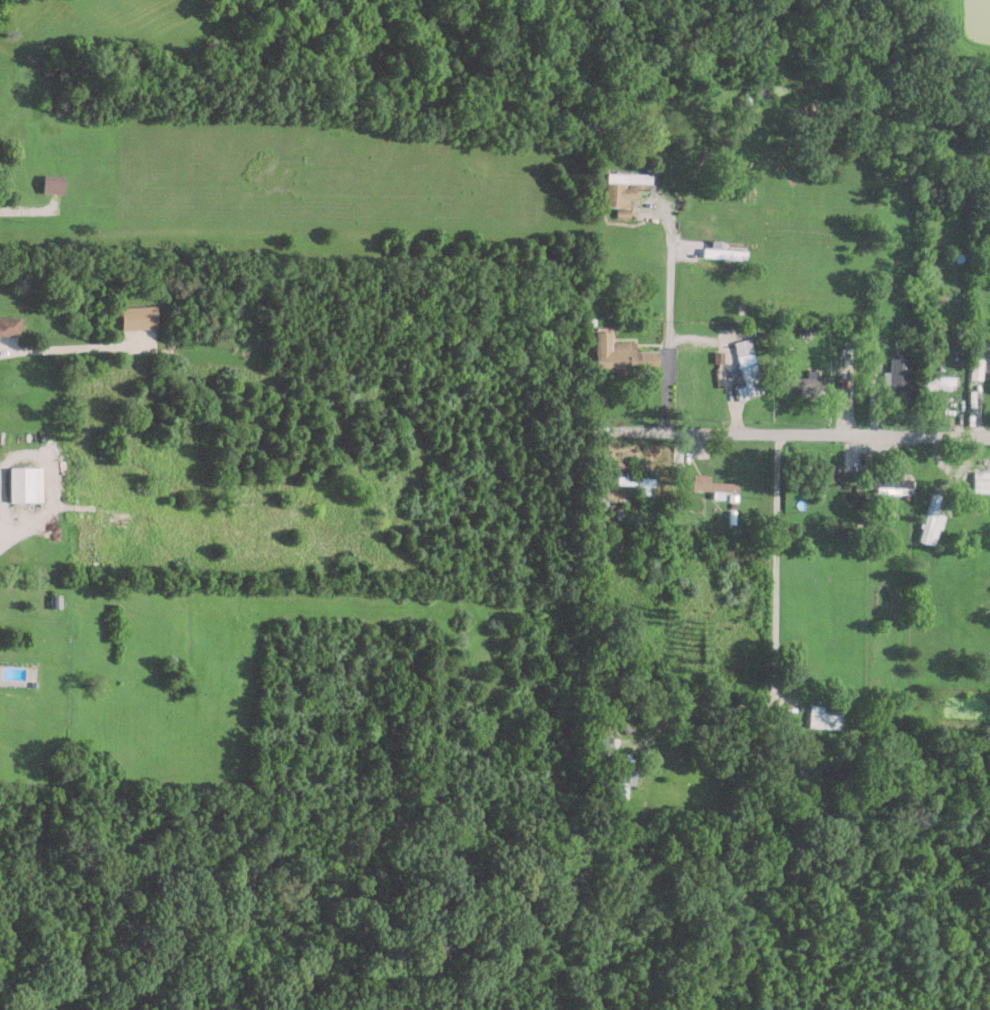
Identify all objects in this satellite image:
building: (743, 100)
building: (52, 183)
building: (625, 187)
building: (723, 251)
road: (668, 318)
building: (10, 325)
road: (8, 351)
building: (622, 353)
building: (746, 370)
building: (899, 378)
building: (938, 382)
road: (792, 434)
road: (31, 453)
building: (821, 475)
building: (982, 478)
building: (25, 482)
building: (639, 482)
building: (893, 482)
building: (715, 484)
building: (600, 494)
building: (931, 517)
road: (5, 540)
road: (774, 572)
road: (700, 704)
building: (823, 718)
building: (621, 775)

